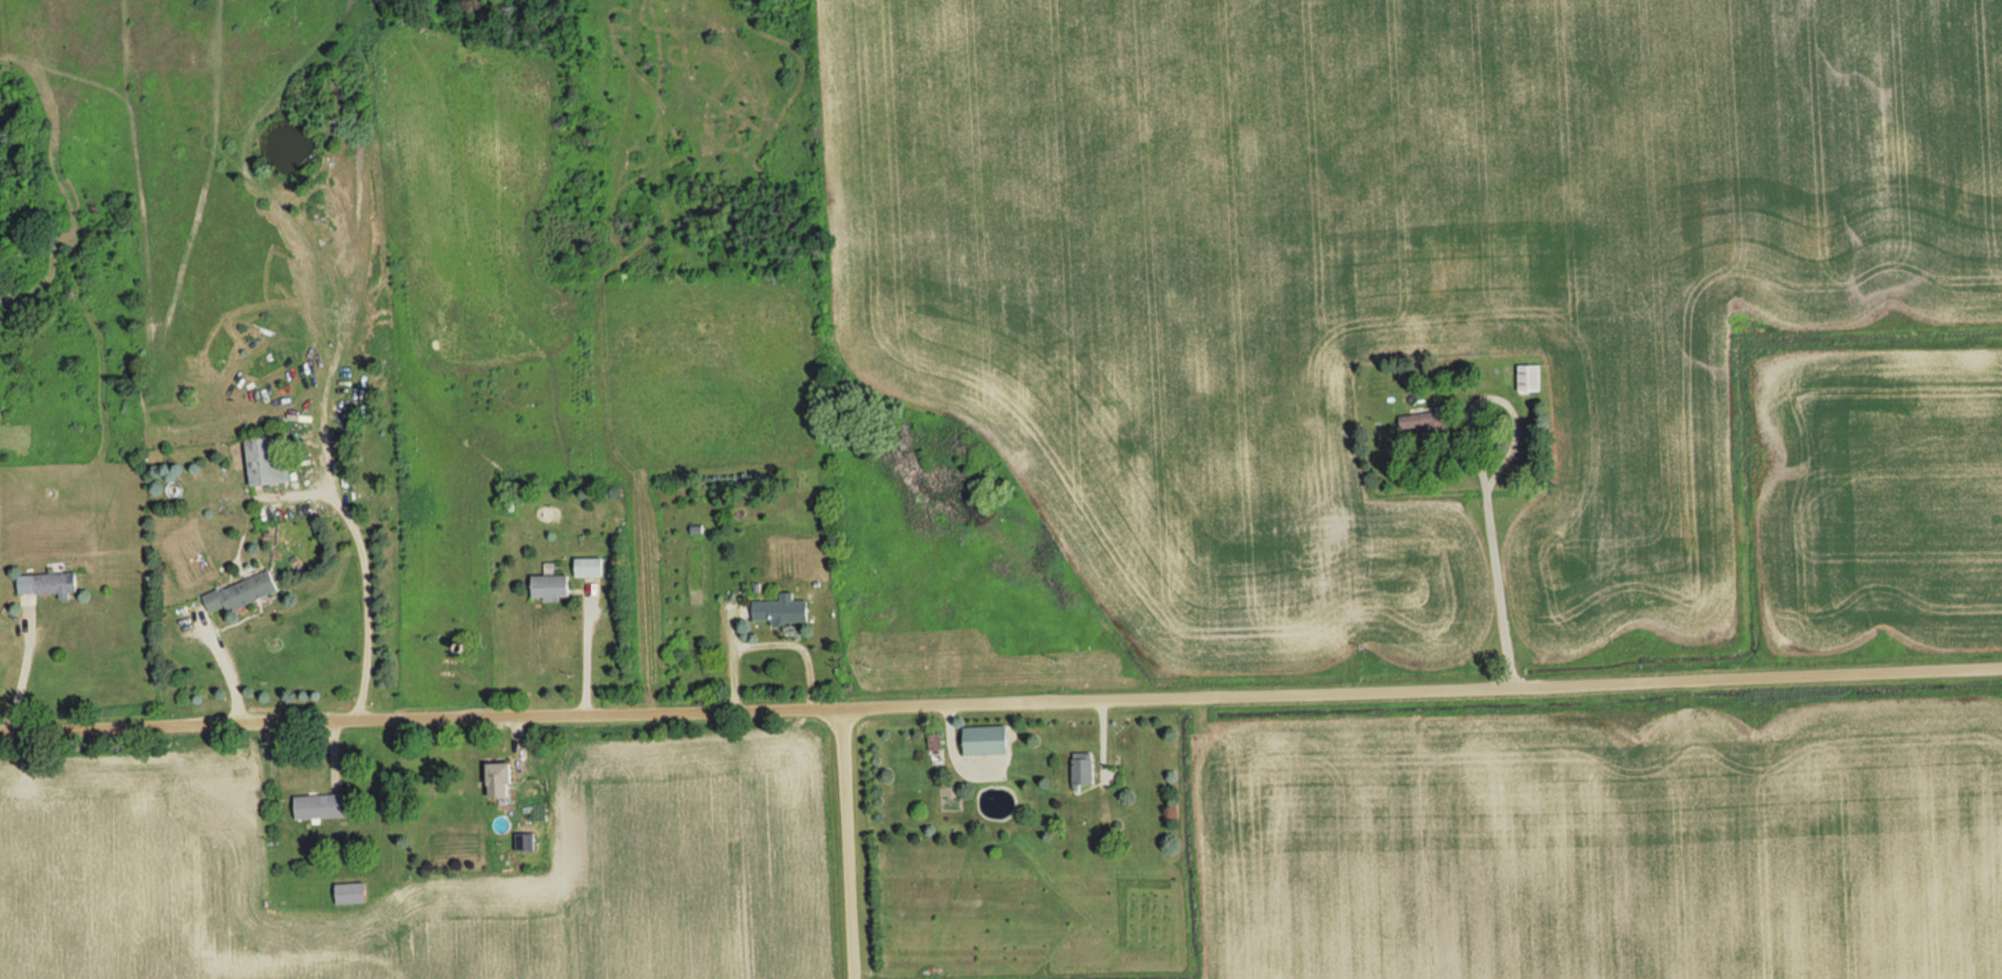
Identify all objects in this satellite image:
building: (1531, 378)
building: (1425, 422)
building: (271, 461)
building: (592, 567)
building: (50, 584)
building: (553, 587)
building: (244, 592)
building: (784, 610)
road: (1000, 695)
building: (989, 740)
building: (1085, 770)
building: (503, 780)
building: (323, 807)
road: (850, 841)
building: (526, 842)
building: (353, 894)

